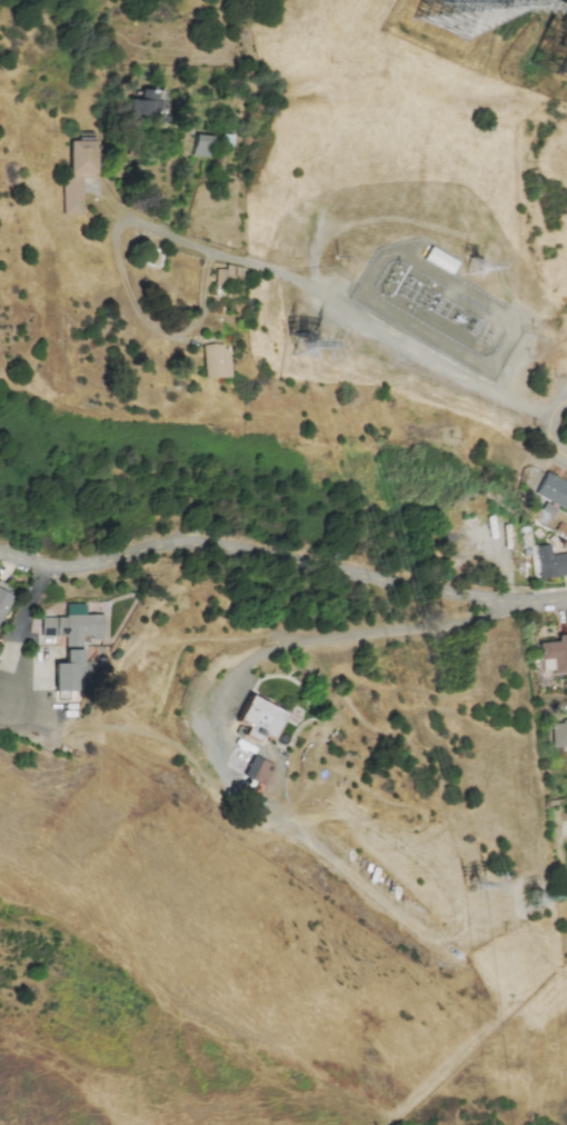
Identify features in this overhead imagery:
power tower: (445, 4)
building: (149, 102)
building: (201, 146)
building: (77, 175)
building: (439, 260)
power tower: (481, 269)
building: (228, 275)
road: (329, 308)
power substation: (436, 309)
road: (157, 332)
power tower: (298, 346)
building: (216, 361)
road: (547, 438)
building: (553, 490)
road: (282, 559)
building: (550, 562)
road: (510, 584)
building: (3, 598)
road: (332, 636)
building: (71, 641)
building: (555, 653)
building: (259, 719)
building: (258, 770)
building: (566, 865)
power tower: (467, 885)
power tower: (534, 899)

